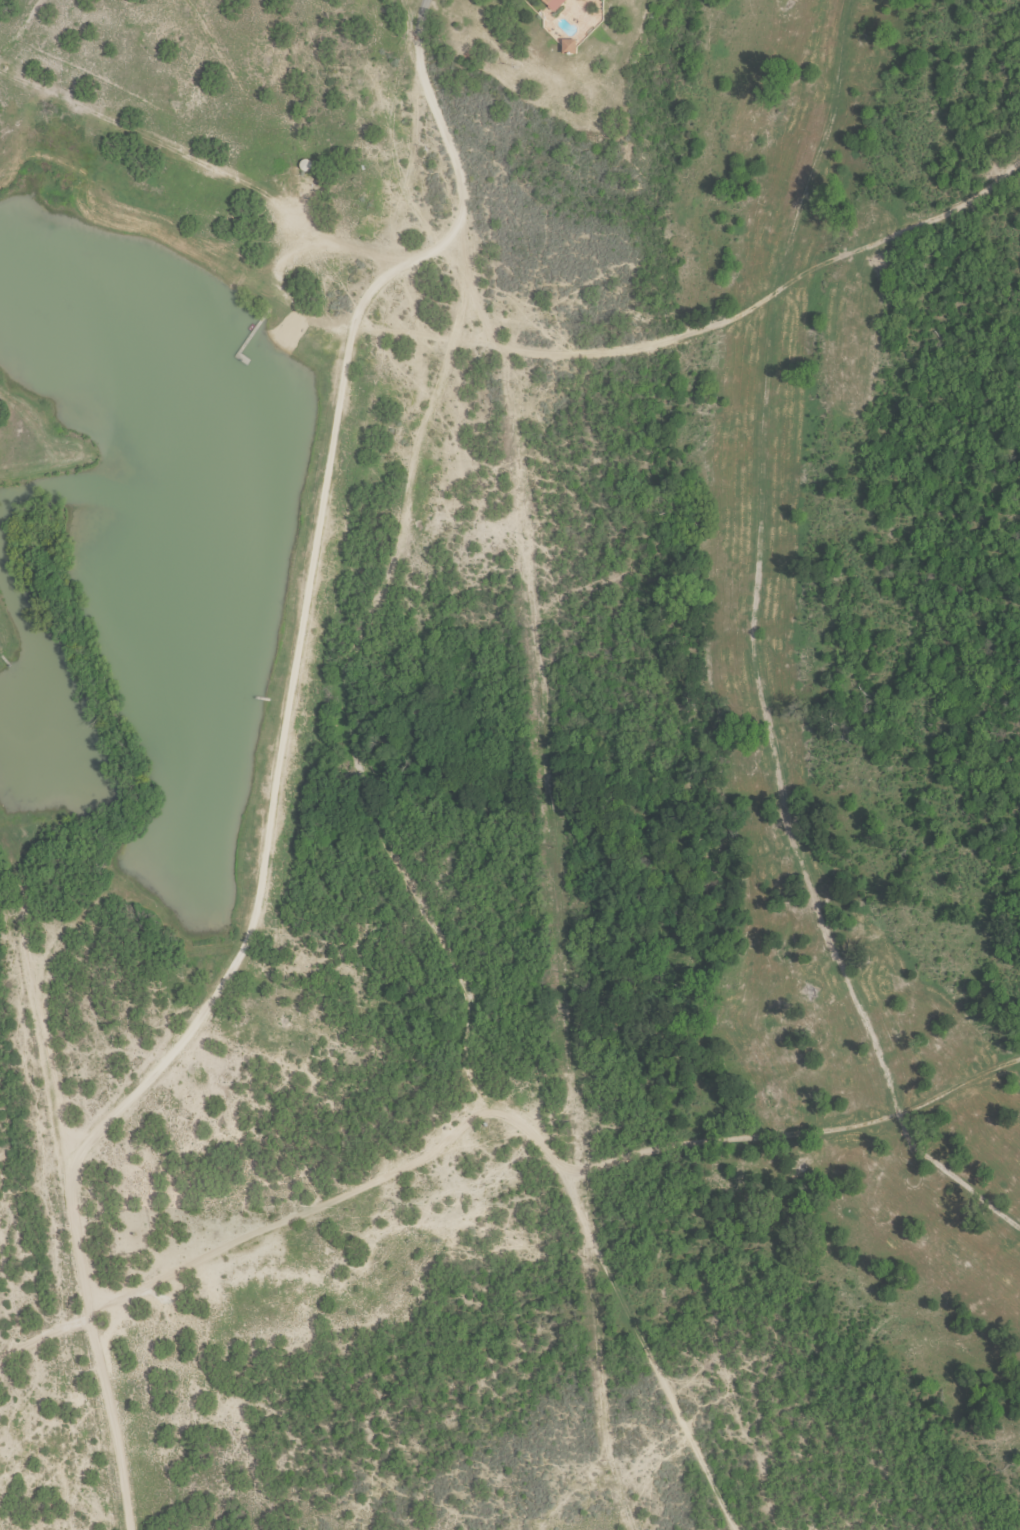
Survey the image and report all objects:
building: (555, 4)
road: (750, 589)
road: (285, 770)

